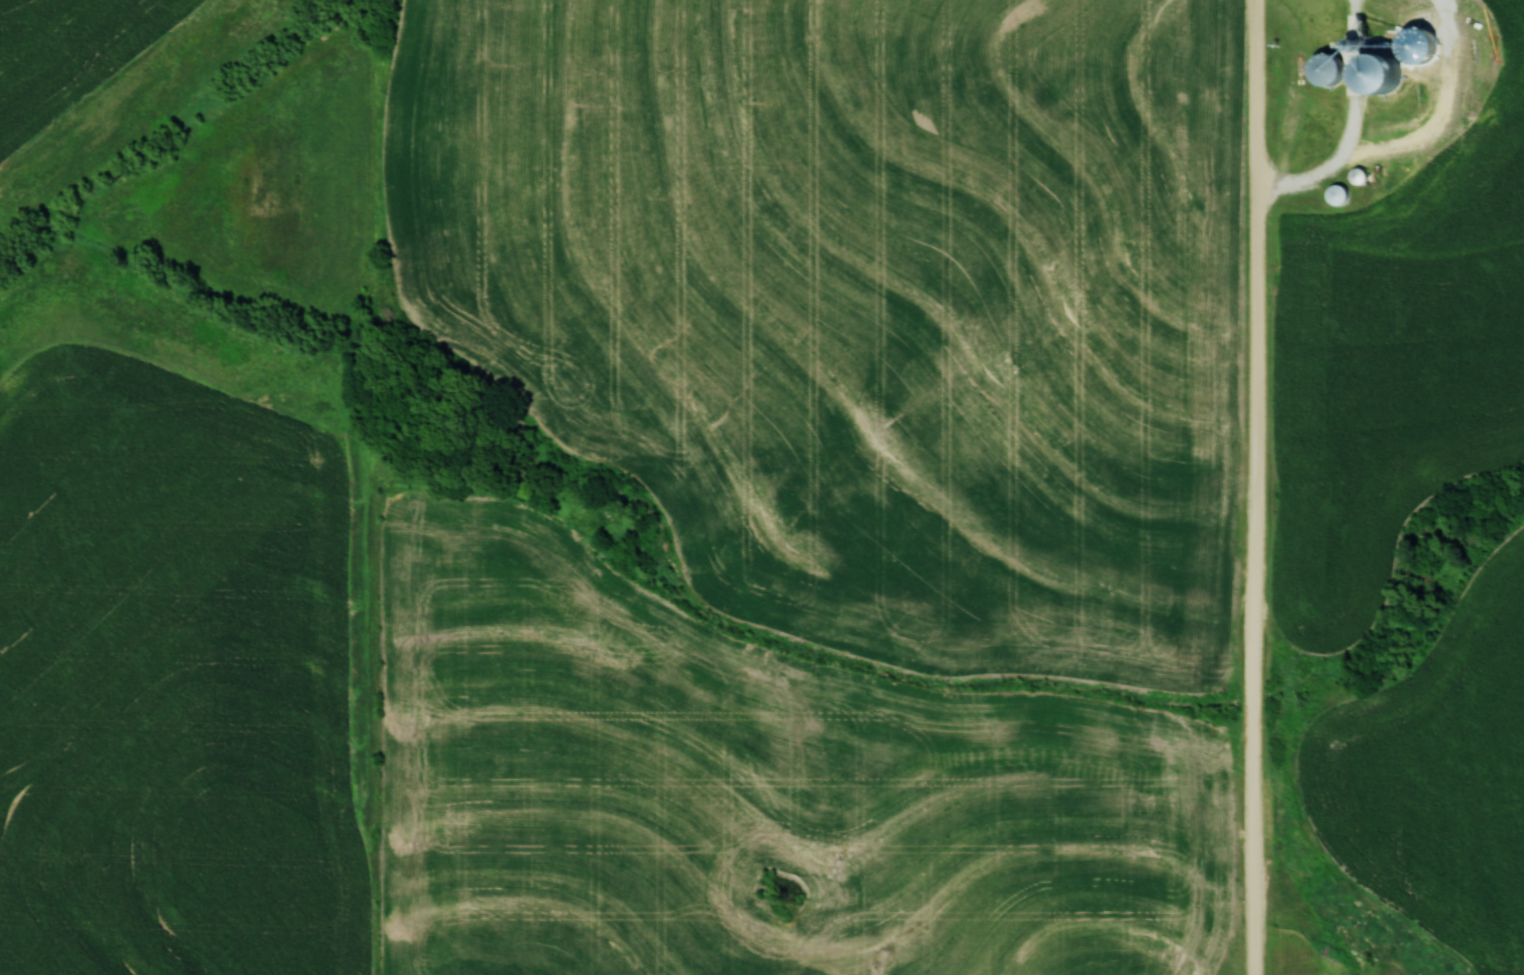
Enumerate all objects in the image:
building: (1313, 69)
building: (1330, 196)
road: (1260, 487)

